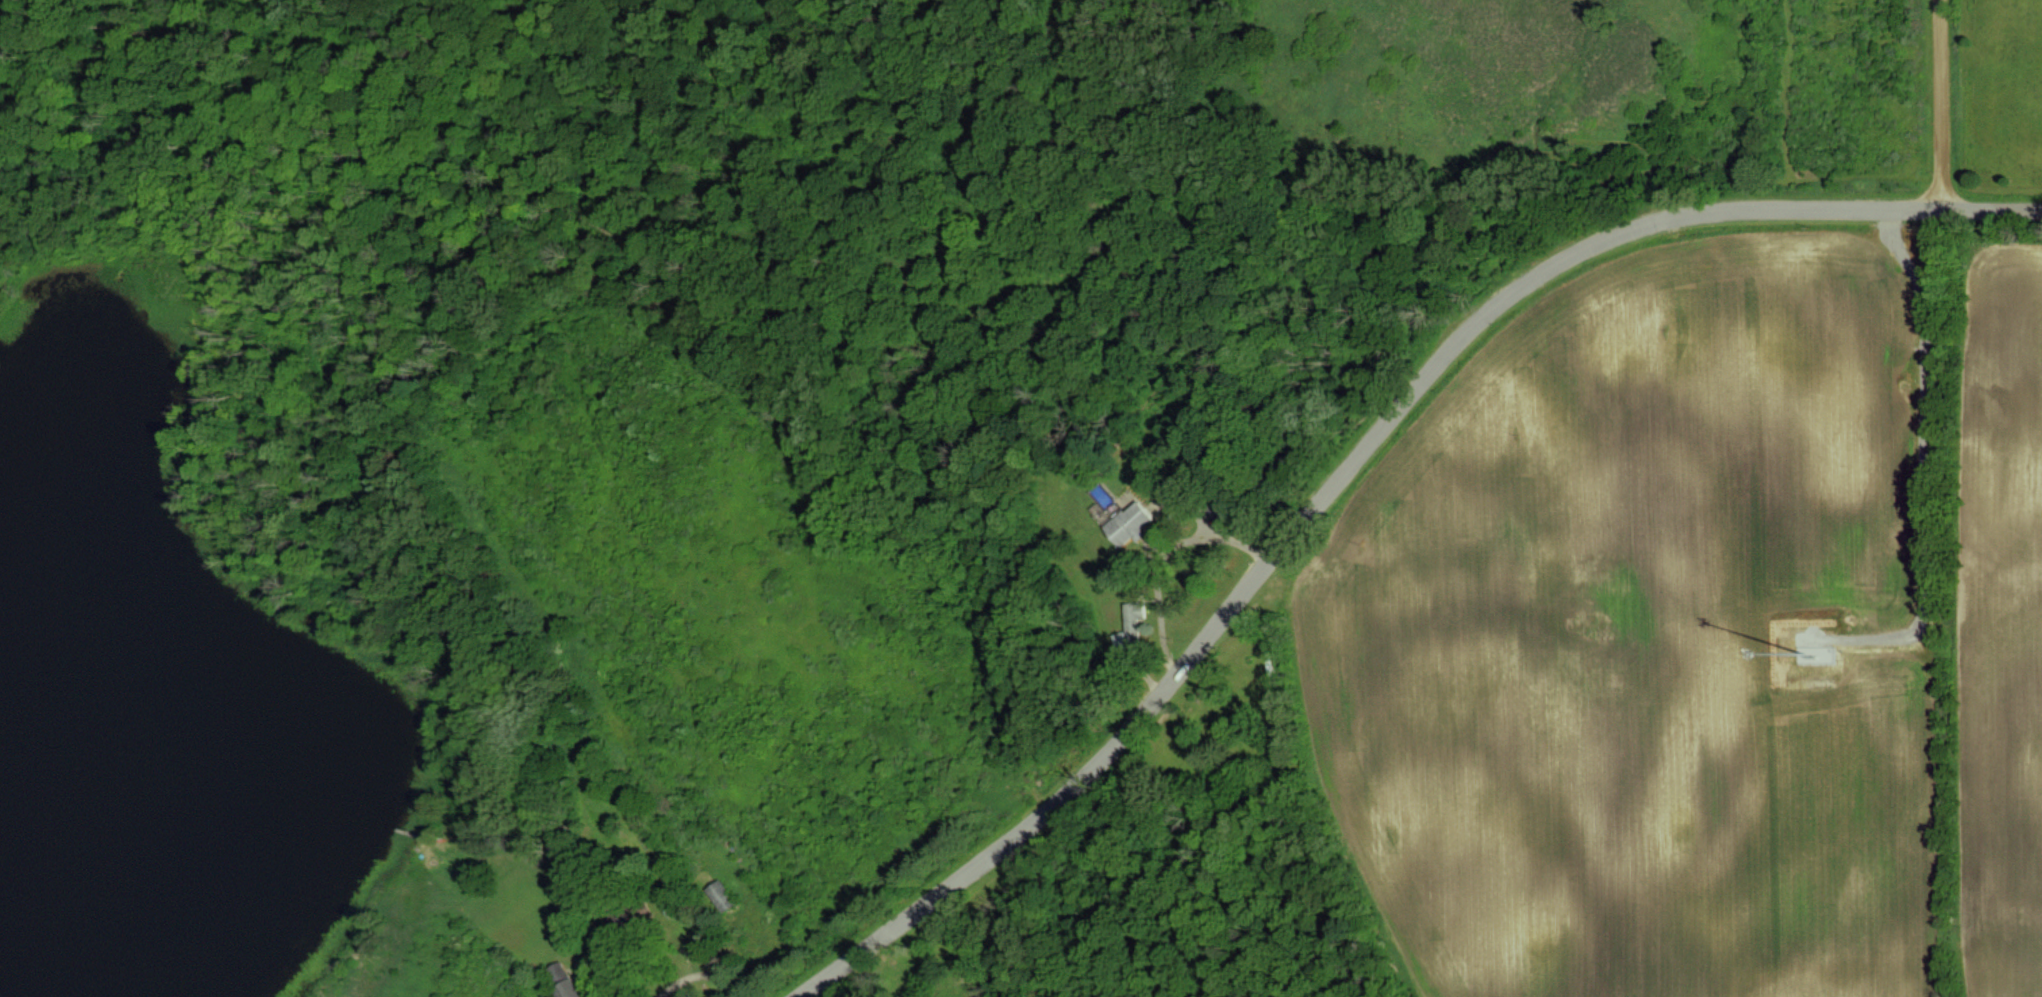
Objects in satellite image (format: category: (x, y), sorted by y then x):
road: (1939, 102)
road: (1351, 458)
building: (1127, 523)
building: (1127, 627)
building: (713, 895)
building: (548, 971)
road: (601, 973)
road: (689, 975)
building: (560, 988)

